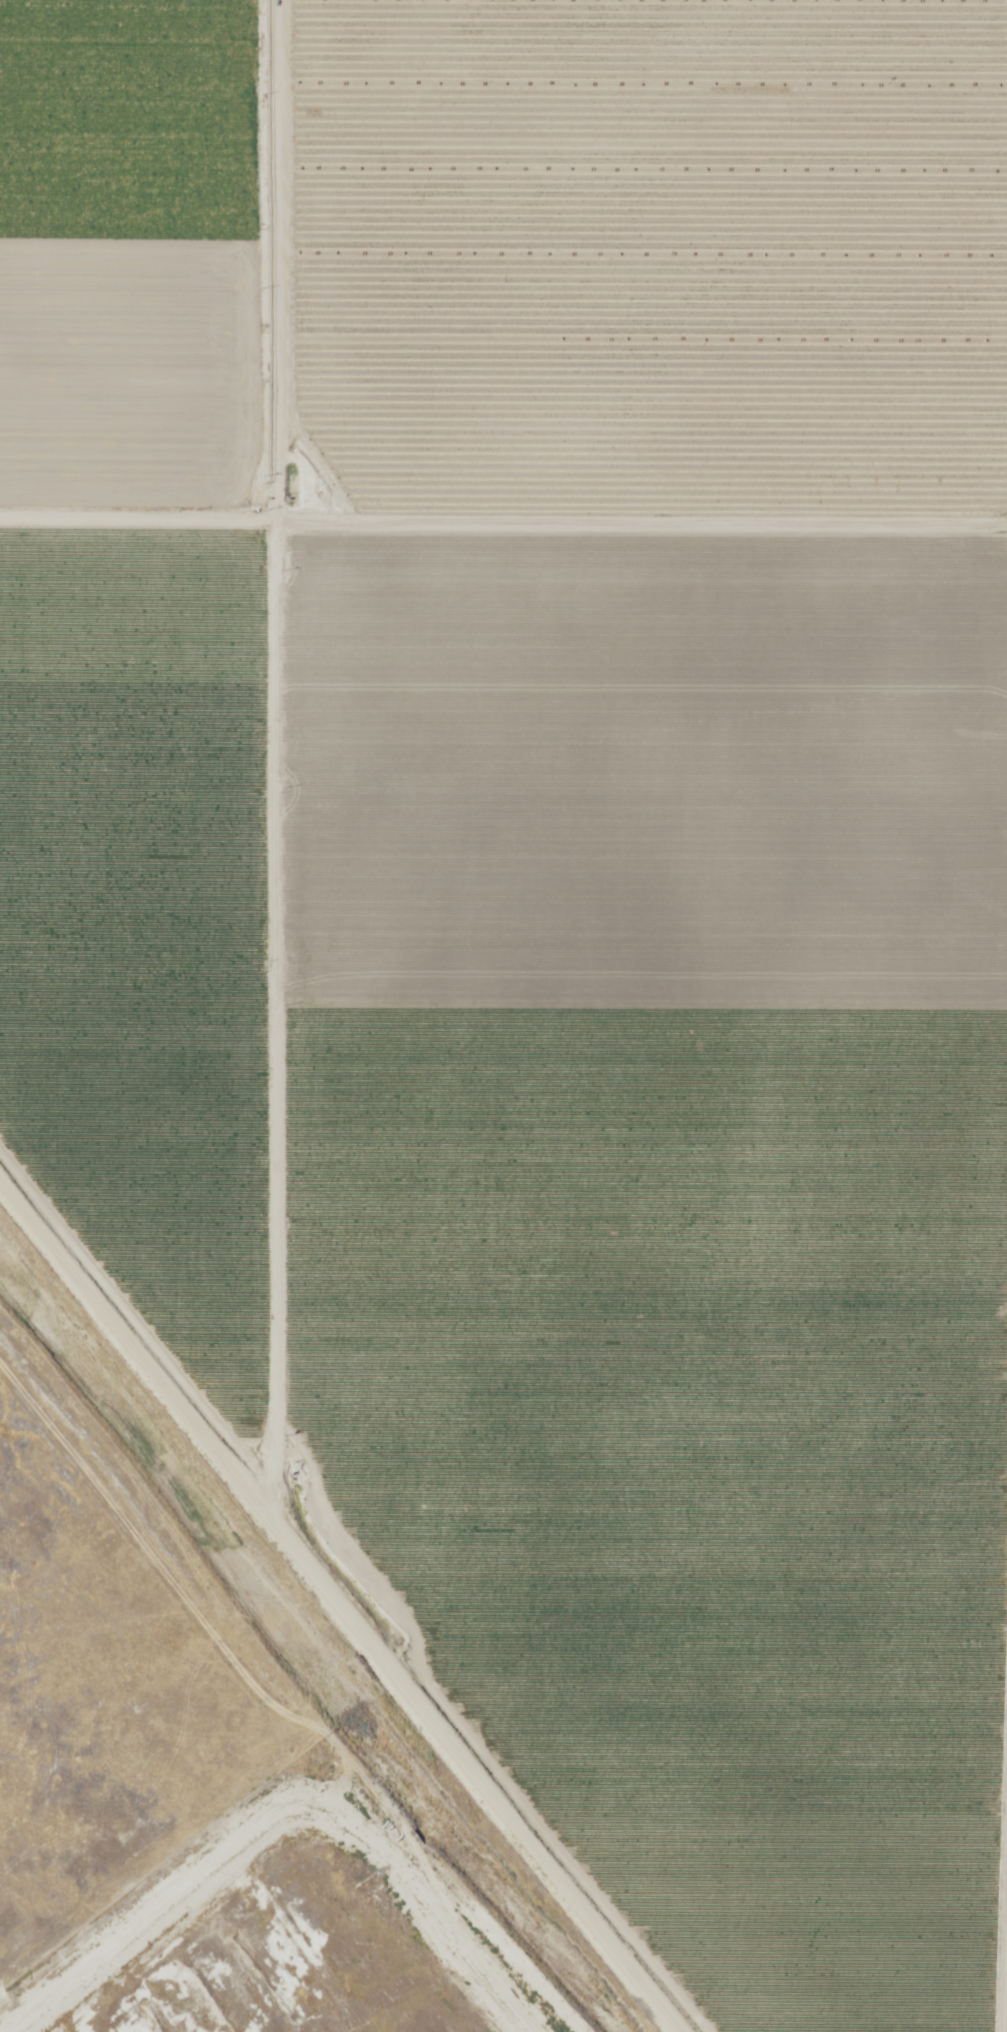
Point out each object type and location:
crop: (502, 260)
road: (270, 761)
crop: (574, 1160)
road: (340, 1606)

